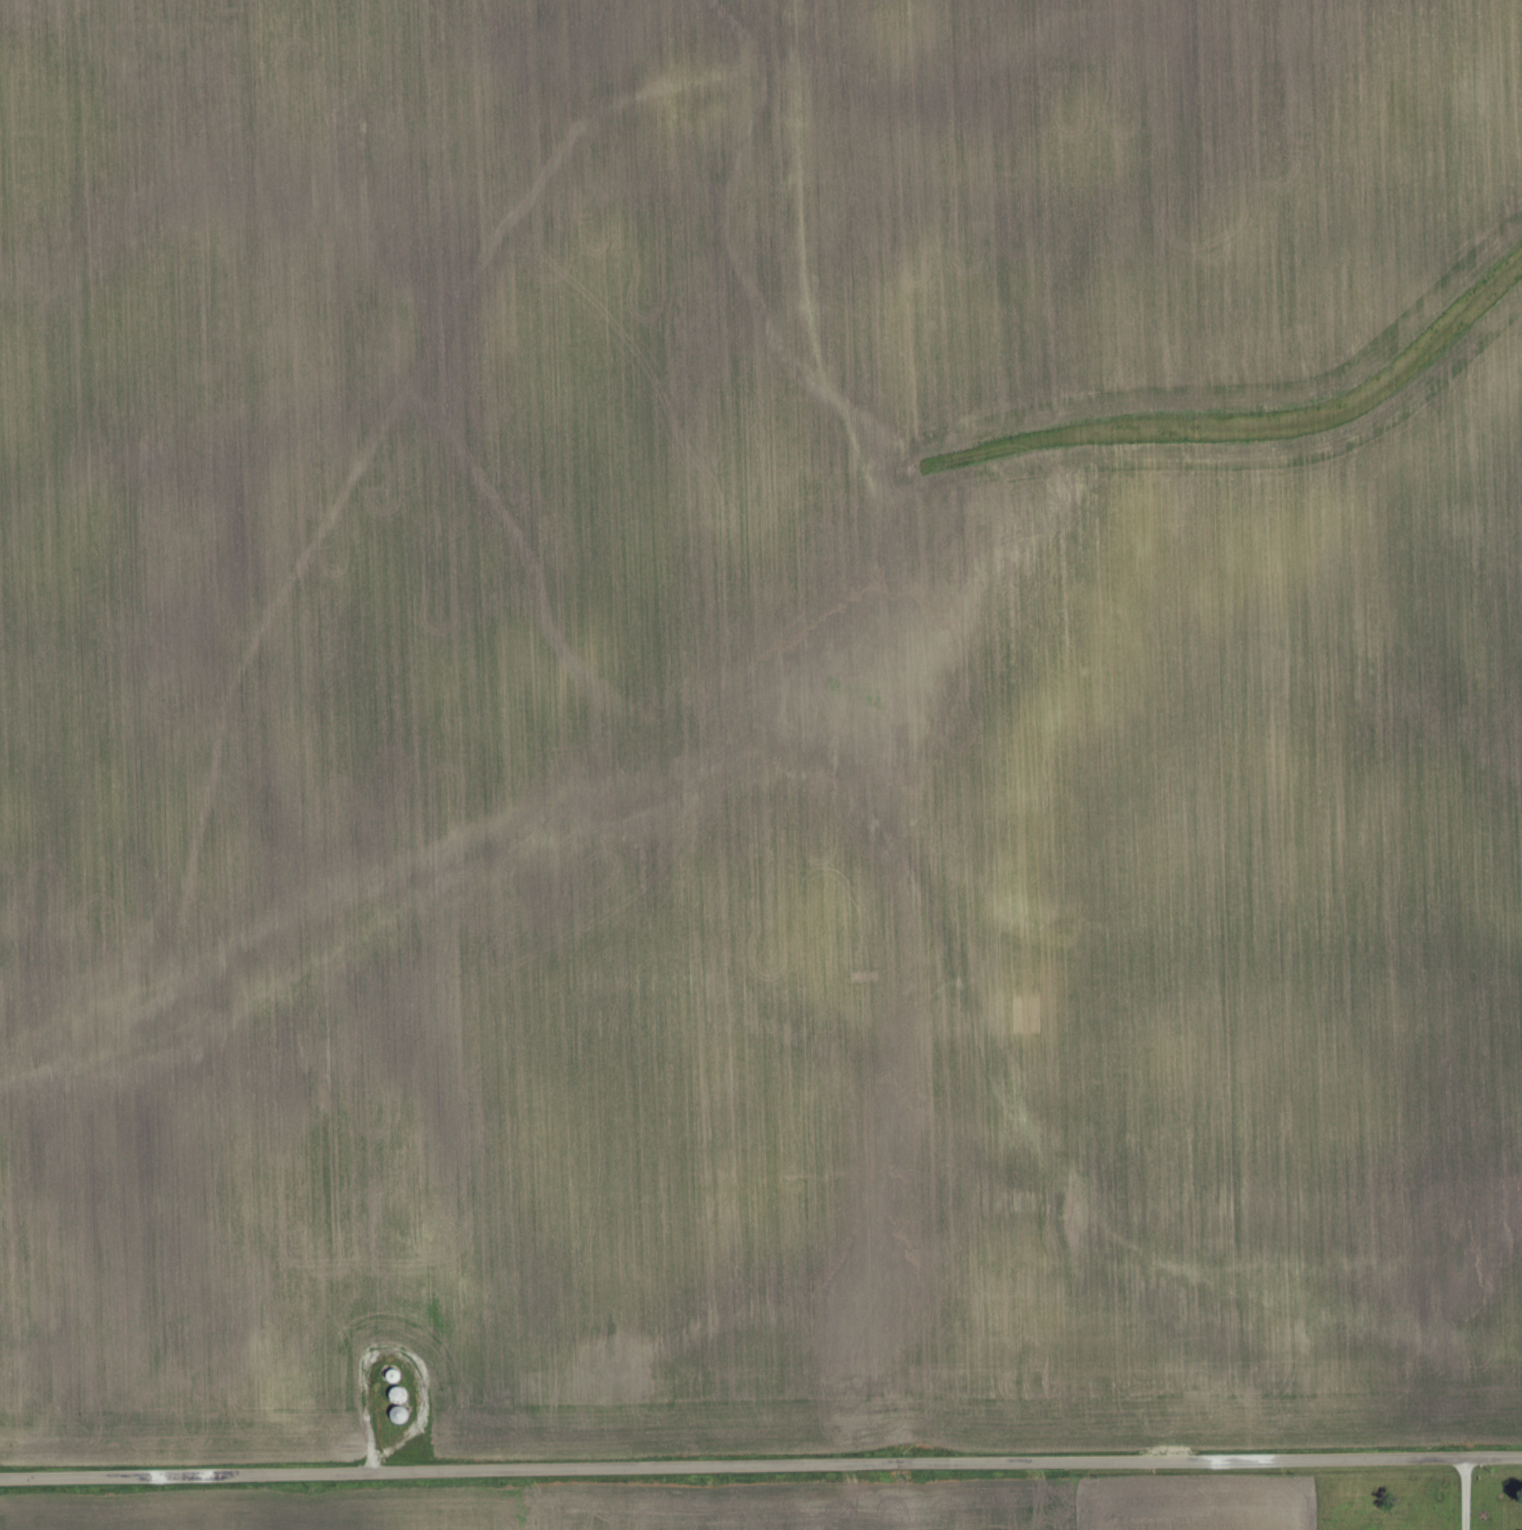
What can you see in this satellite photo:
crop: (756, 726)
road: (760, 1467)
crop: (693, 1506)

